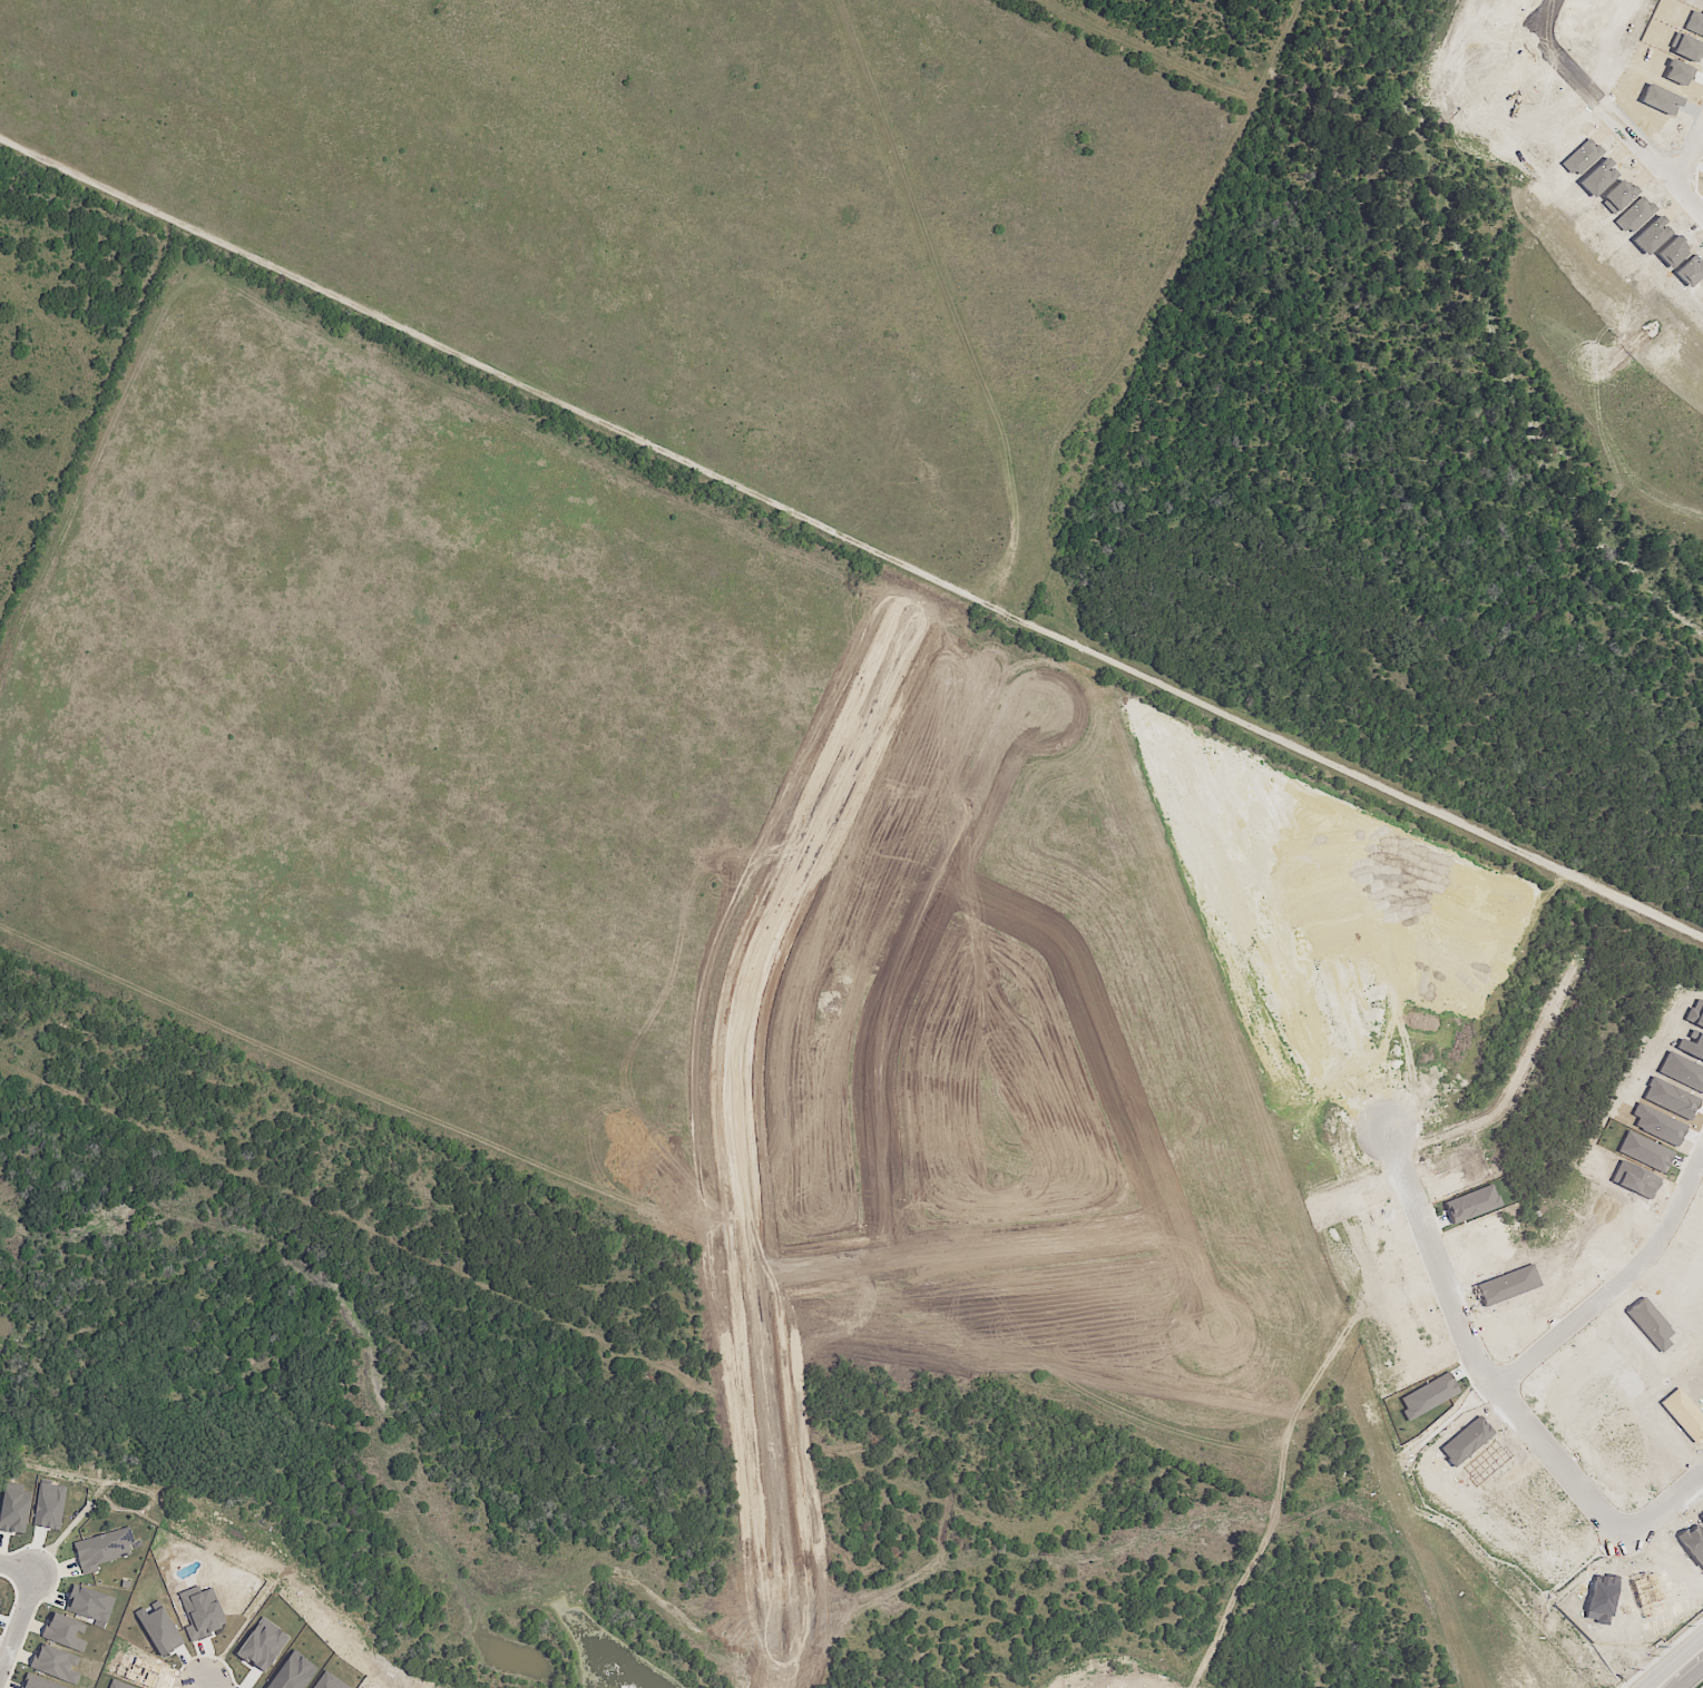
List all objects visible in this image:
road: (1564, 27)
road: (1627, 131)
road: (1689, 148)
road: (894, 282)
road: (596, 547)
road: (378, 611)
road: (155, 614)
road: (1269, 639)
road: (711, 710)
road: (331, 767)
road: (1589, 767)
road: (1454, 774)
road: (375, 879)
road: (1592, 942)
road: (900, 968)
road: (358, 1022)
road: (1114, 1076)
road: (589, 1098)
road: (1376, 1099)
road: (733, 1110)
road: (434, 1167)
road: (958, 1248)
road: (1617, 1297)
road: (1661, 1504)
building: (102, 1549)
road: (21, 1561)
road: (21, 1622)
building: (66, 1632)
building: (56, 1664)
road: (1681, 1668)
building: (38, 1682)
road: (1699, 1684)

